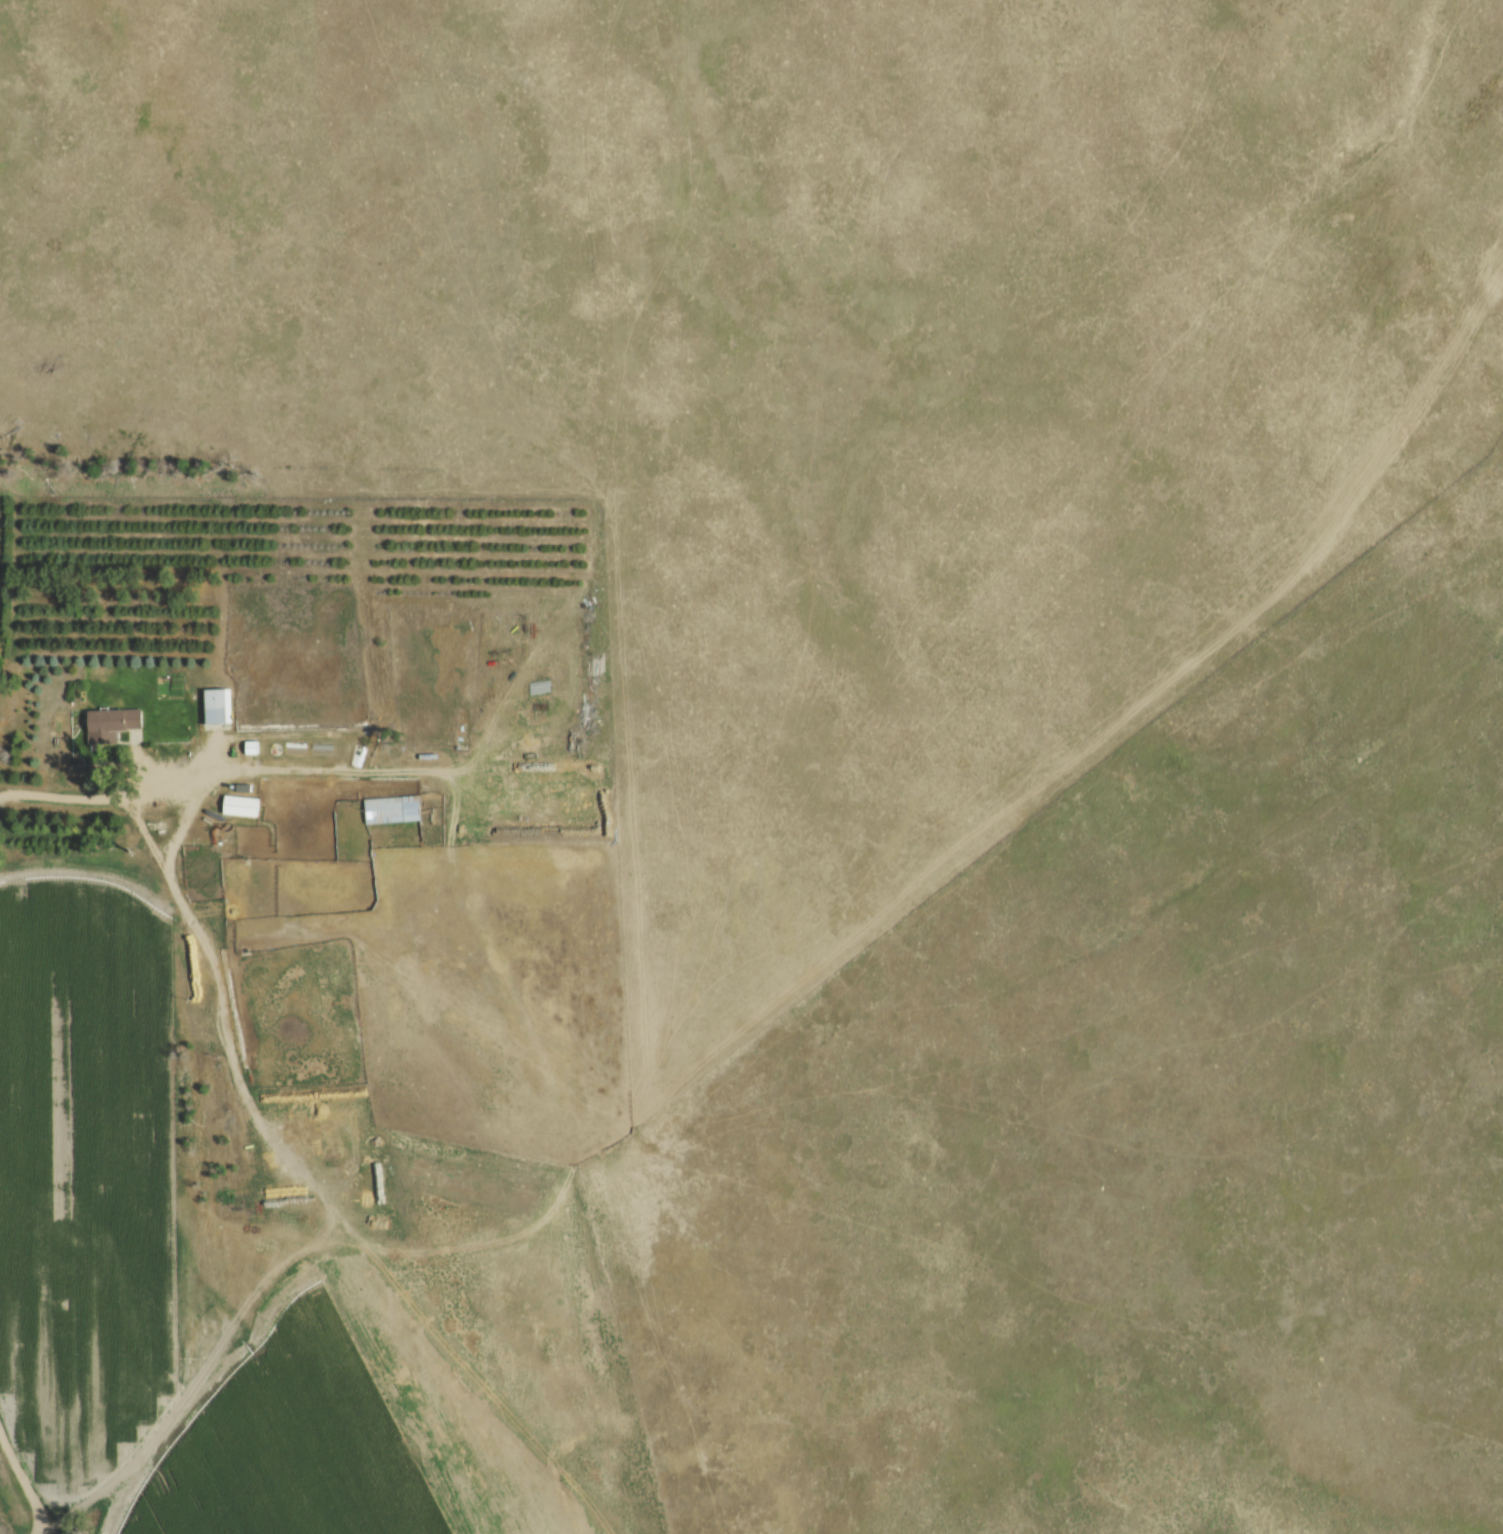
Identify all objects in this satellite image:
building: (217, 707)
building: (113, 722)
road: (138, 756)
road: (116, 794)
building: (242, 804)
building: (393, 809)
crop: (85, 1170)
crop: (343, 1430)
road: (25, 1481)

